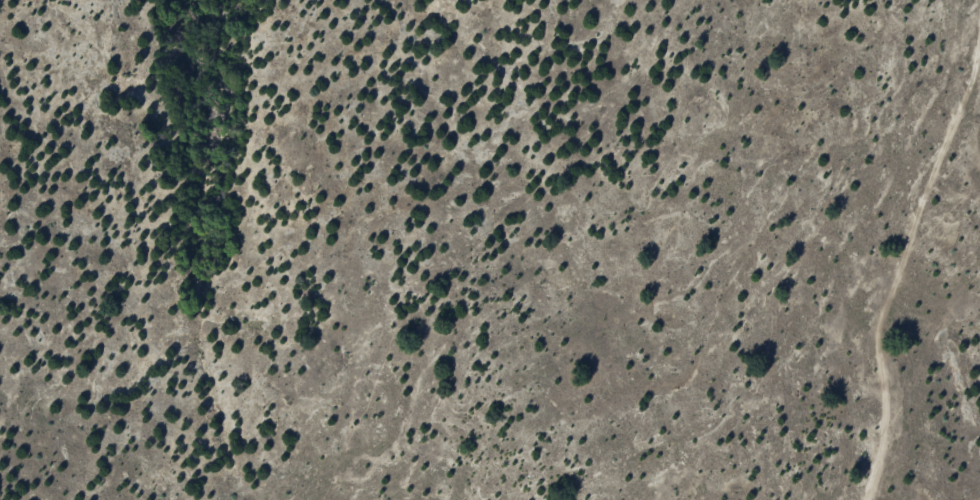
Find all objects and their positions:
road: (886, 254)

